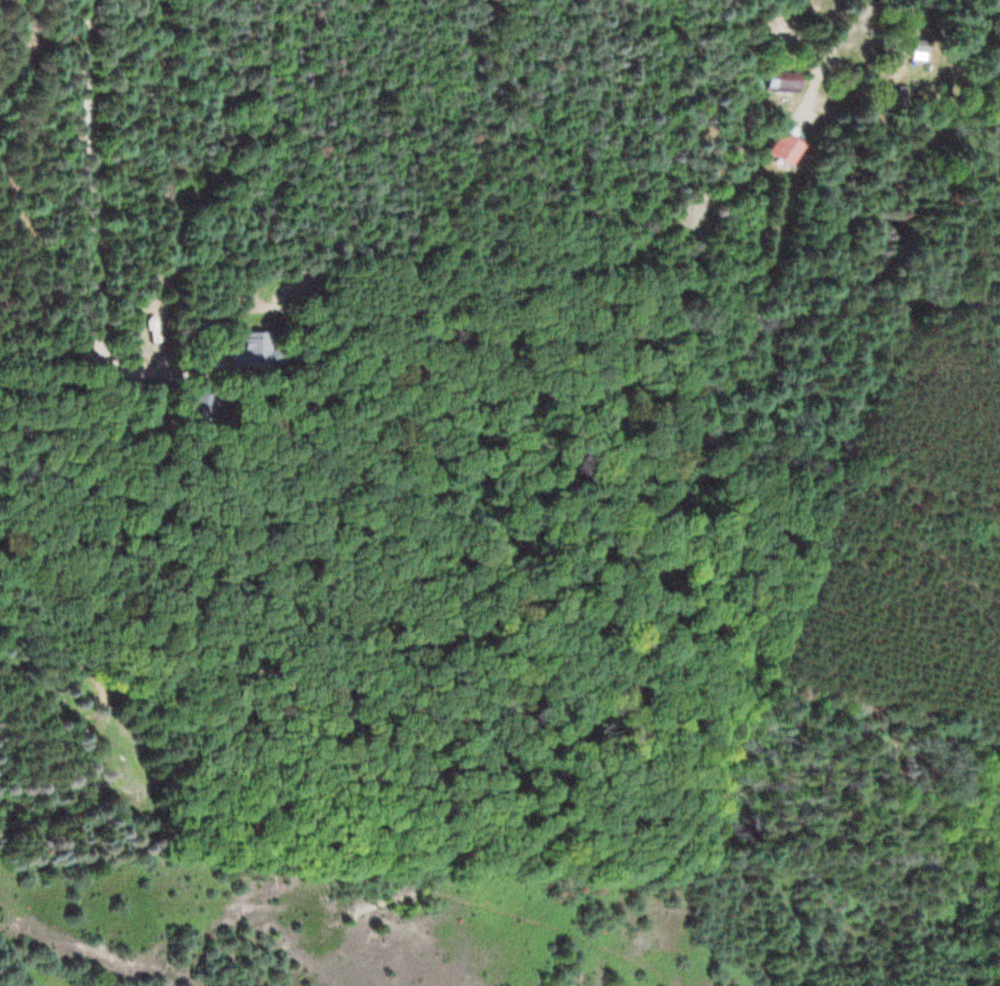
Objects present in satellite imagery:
building: (791, 80)
building: (787, 147)
building: (244, 354)

